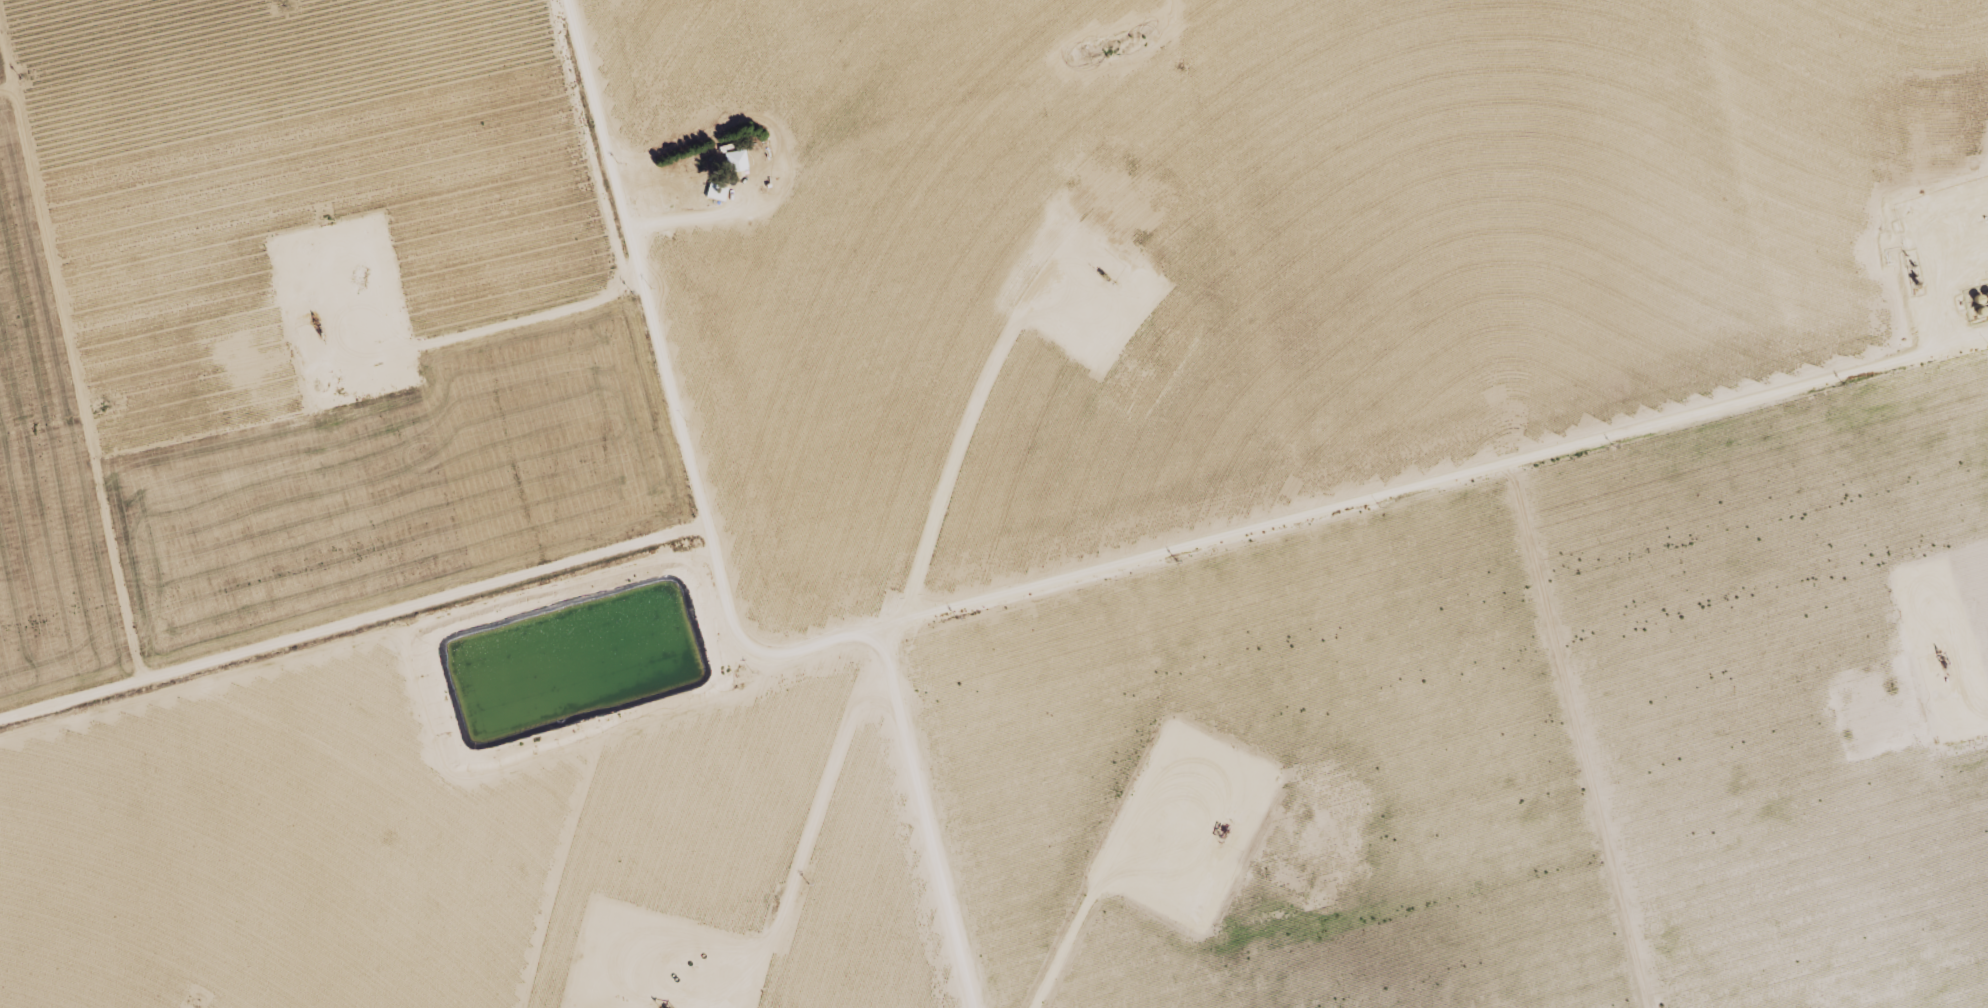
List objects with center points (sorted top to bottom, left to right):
road: (671, 393)
road: (1415, 516)
road: (891, 831)

